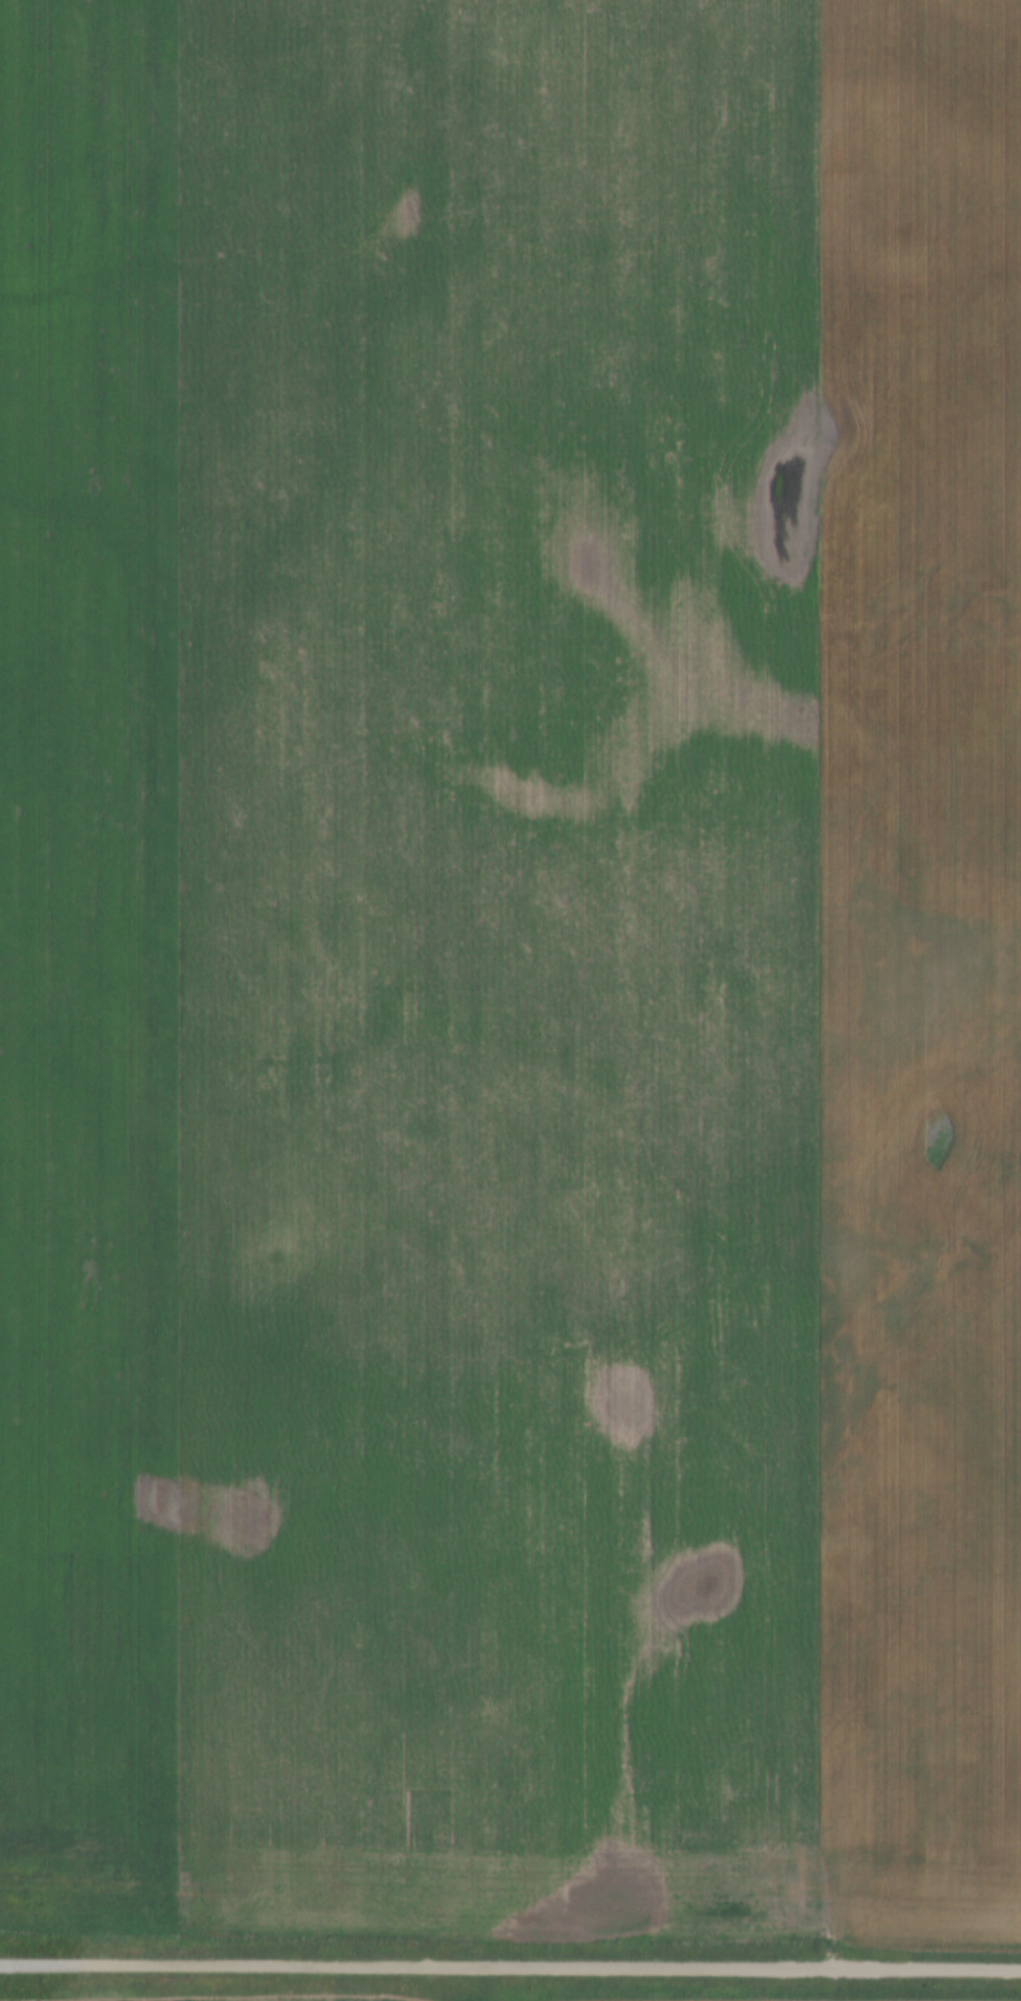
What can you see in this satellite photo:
road: (510, 1964)

